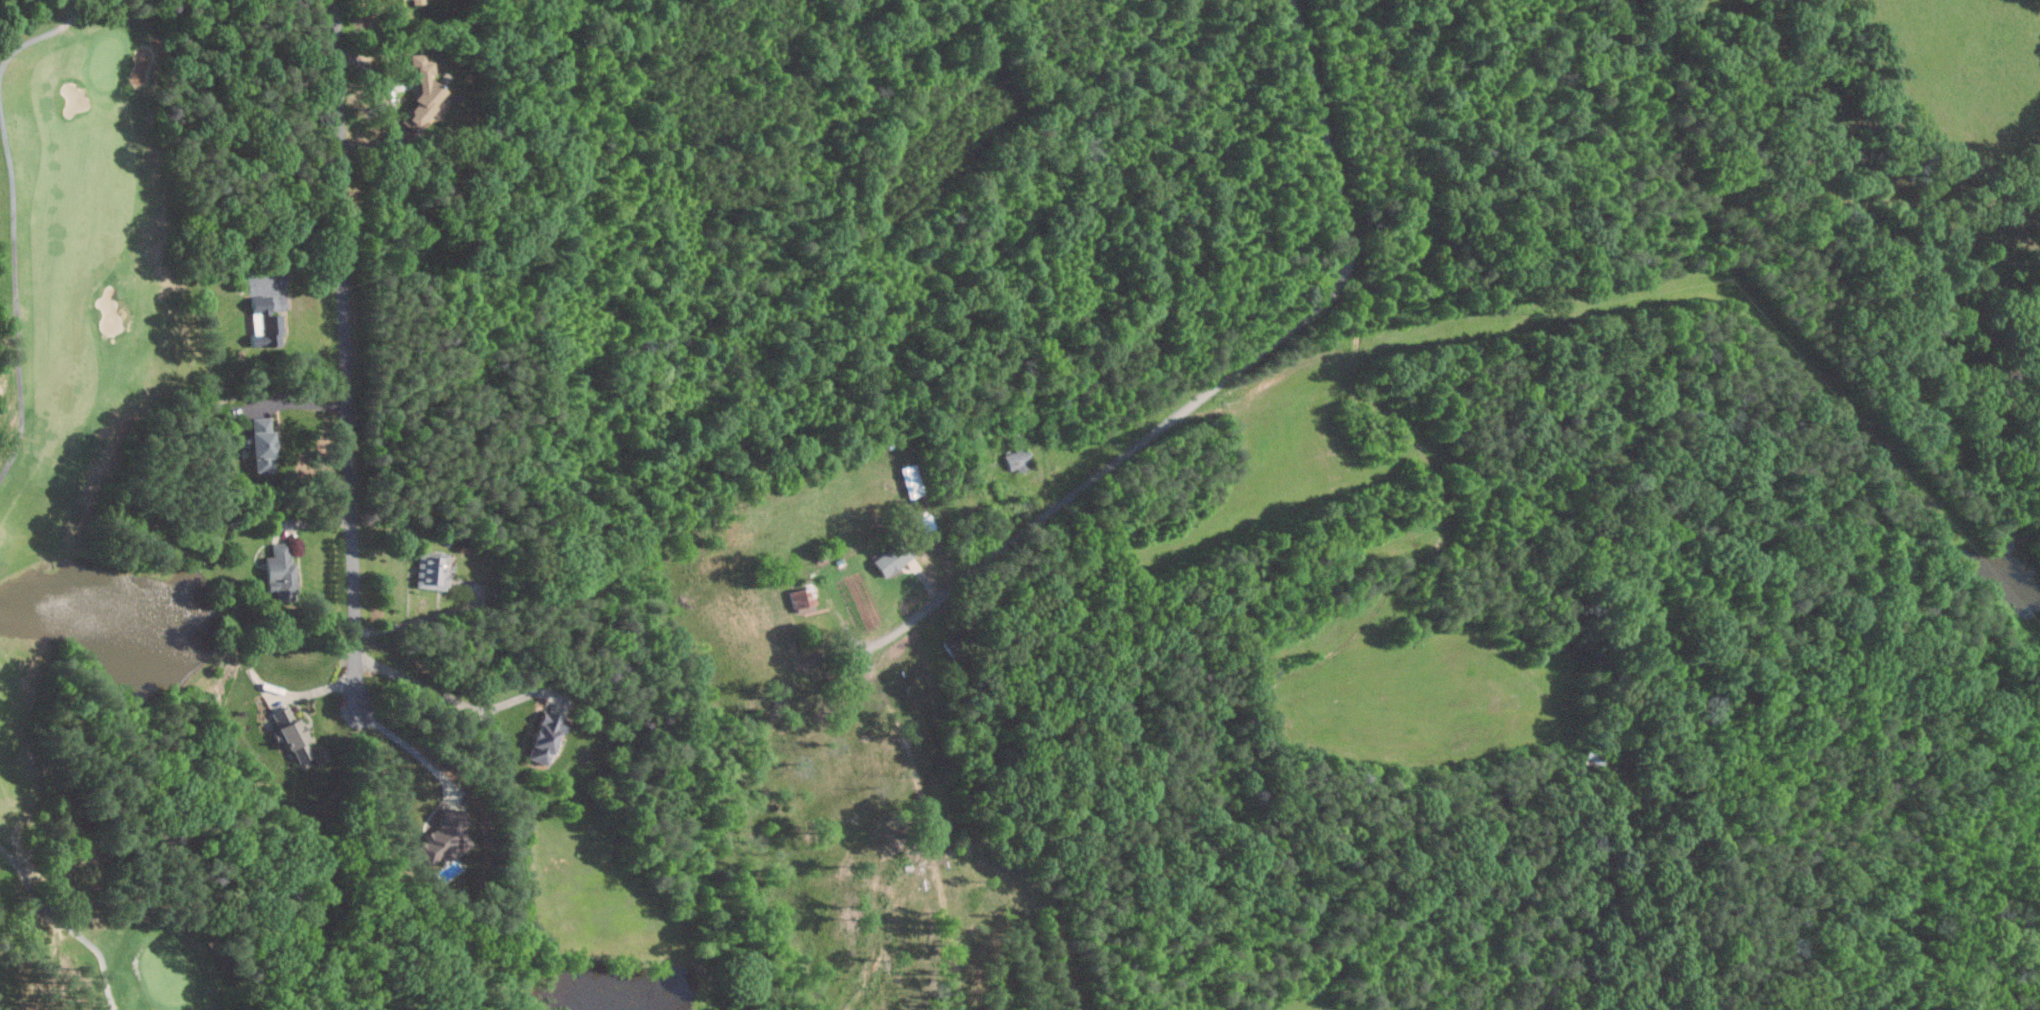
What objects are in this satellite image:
building: (420, 88)
road: (27, 244)
building: (265, 326)
road: (348, 352)
road: (1220, 383)
road: (274, 400)
building: (259, 443)
building: (1017, 459)
park: (320, 511)
building: (892, 558)
building: (279, 570)
building: (430, 570)
building: (801, 597)
road: (423, 619)
road: (455, 700)
building: (288, 732)
building: (544, 737)
road: (413, 747)
building: (441, 833)
road: (47, 914)

